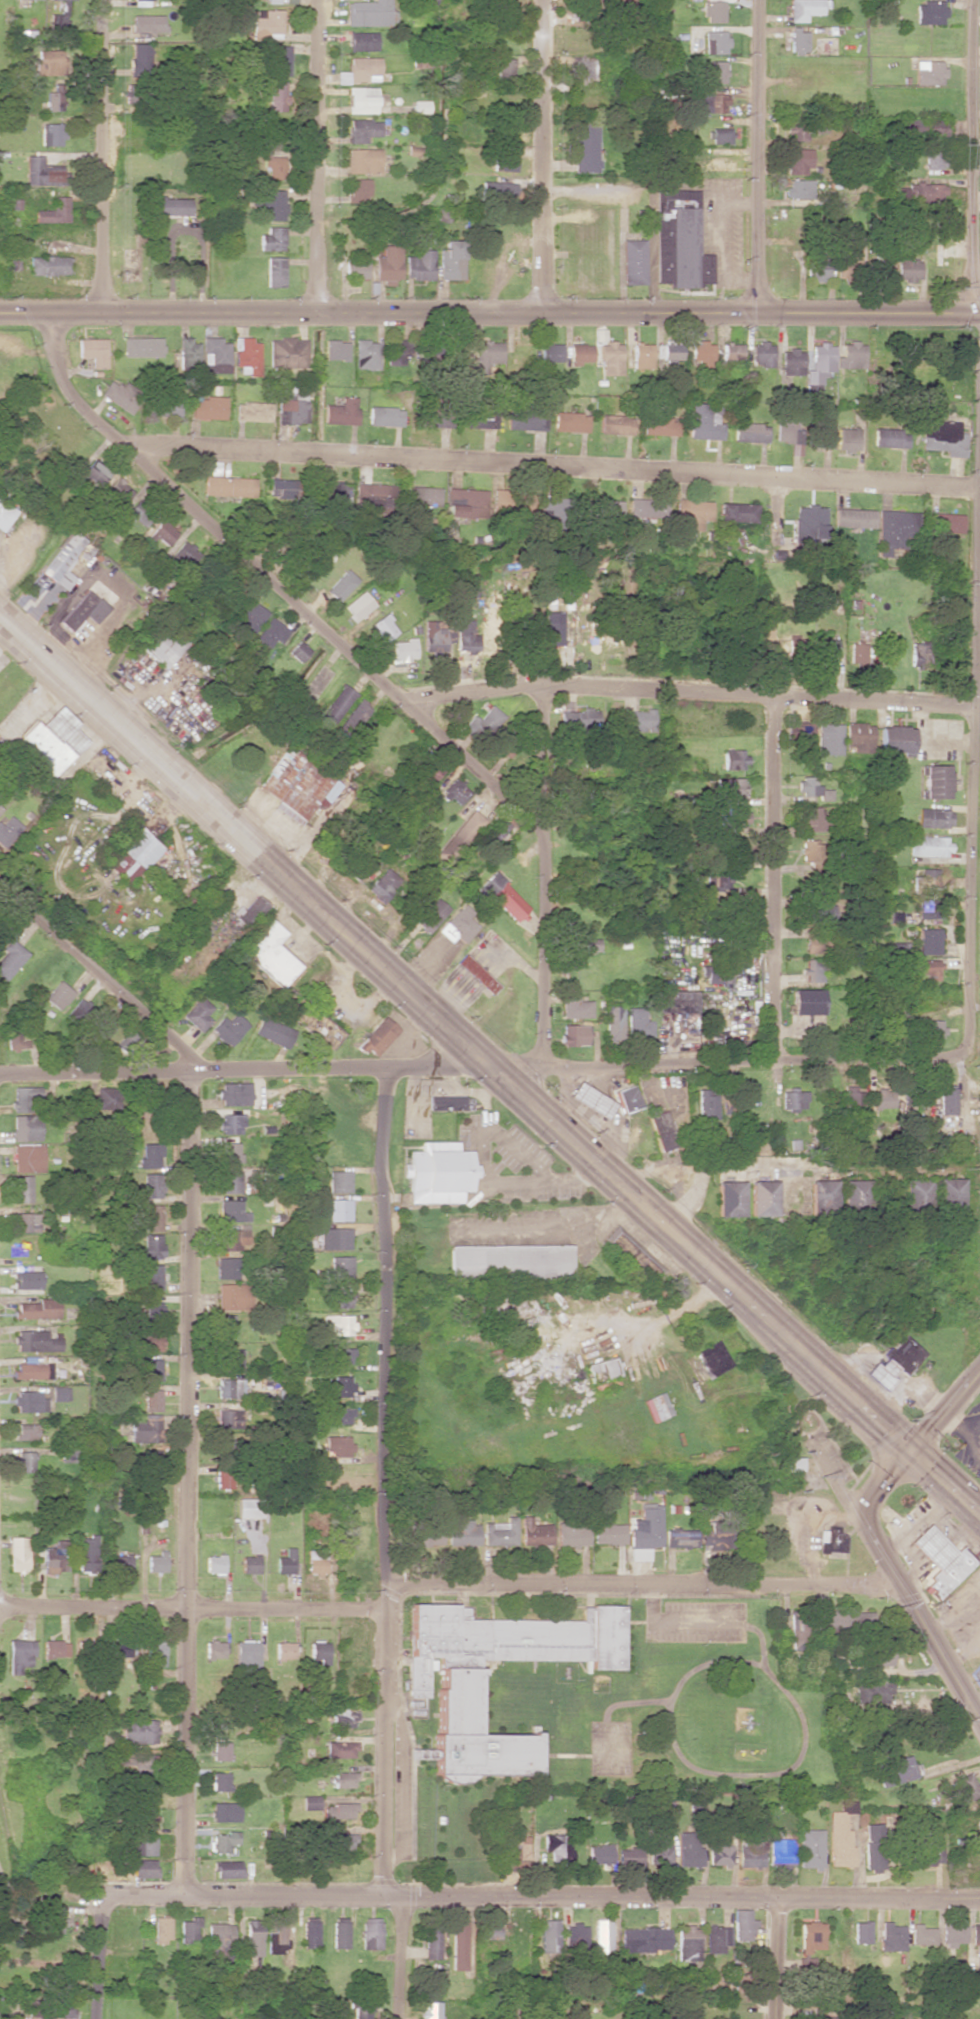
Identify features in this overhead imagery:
building: (803, 9)
building: (713, 11)
building: (929, 12)
building: (370, 13)
building: (57, 21)
building: (266, 22)
building: (147, 23)
building: (797, 39)
building: (363, 40)
building: (715, 41)
building: (139, 55)
building: (281, 58)
building: (49, 62)
building: (505, 66)
building: (361, 70)
building: (715, 71)
building: (585, 72)
building: (928, 72)
building: (277, 96)
building: (362, 99)
building: (55, 101)
building: (421, 106)
building: (911, 126)
building: (798, 128)
building: (363, 129)
building: (935, 129)
building: (52, 133)
building: (720, 135)
road: (974, 137)
building: (586, 147)
road: (319, 154)
road: (102, 155)
road: (540, 156)
road: (761, 157)
building: (934, 159)
building: (364, 160)
building: (798, 161)
building: (717, 162)
building: (276, 166)
building: (43, 172)
building: (799, 188)
building: (361, 189)
building: (496, 190)
building: (925, 192)
building: (269, 203)
building: (169, 206)
building: (54, 211)
building: (273, 239)
building: (679, 240)
building: (452, 259)
building: (634, 261)
building: (389, 263)
building: (48, 265)
building: (420, 265)
building: (907, 269)
building: (819, 270)
building: (276, 271)
building: (356, 271)
road: (432, 310)
road: (51, 312)
road: (870, 316)
building: (142, 347)
building: (337, 350)
building: (93, 351)
building: (669, 351)
building: (189, 352)
building: (288, 352)
building: (397, 352)
building: (551, 353)
building: (581, 353)
building: (702, 353)
building: (367, 354)
building: (733, 354)
building: (762, 354)
building: (216, 355)
building: (486, 355)
building: (852, 355)
building: (247, 356)
building: (642, 356)
building: (611, 358)
building: (792, 362)
building: (819, 365)
building: (120, 395)
building: (208, 407)
building: (293, 408)
park: (252, 409)
building: (343, 411)
building: (255, 412)
building: (386, 416)
building: (703, 420)
building: (570, 422)
building: (615, 424)
building: (660, 425)
park: (43, 430)
building: (787, 431)
building: (750, 432)
building: (823, 435)
building: (889, 437)
building: (943, 437)
building: (847, 439)
road: (548, 466)
building: (96, 472)
building: (230, 486)
building: (287, 488)
building: (118, 491)
building: (331, 492)
building: (378, 495)
building: (423, 495)
building: (466, 502)
building: (608, 508)
building: (647, 508)
building: (5, 514)
building: (692, 514)
building: (734, 516)
building: (854, 517)
building: (137, 518)
road: (207, 522)
building: (810, 524)
building: (893, 529)
building: (186, 553)
building: (67, 559)
building: (342, 585)
building: (359, 606)
building: (84, 610)
building: (252, 615)
building: (385, 627)
building: (272, 632)
building: (554, 632)
building: (436, 636)
building: (464, 639)
building: (779, 640)
building: (164, 644)
building: (827, 647)
building: (405, 649)
building: (299, 651)
building: (858, 652)
building: (920, 654)
road: (692, 691)
building: (339, 703)
building: (357, 715)
building: (641, 719)
building: (486, 720)
building: (581, 721)
building: (800, 734)
building: (858, 736)
building: (829, 738)
building: (895, 738)
building: (54, 739)
building: (734, 758)
road: (472, 766)
building: (431, 769)
building: (935, 781)
building: (298, 785)
building: (732, 786)
road: (974, 787)
building: (812, 788)
building: (456, 791)
building: (0, 808)
building: (811, 815)
building: (736, 817)
building: (934, 817)
building: (8, 830)
building: (461, 836)
building: (736, 843)
building: (929, 845)
building: (132, 854)
building: (809, 855)
road: (771, 875)
road: (540, 877)
building: (719, 881)
building: (921, 883)
building: (383, 884)
building: (503, 896)
building: (930, 909)
building: (821, 912)
building: (431, 915)
building: (458, 924)
building: (820, 941)
building: (929, 941)
building: (589, 945)
building: (271, 954)
building: (11, 958)
building: (927, 968)
building: (814, 970)
building: (477, 973)
road: (100, 974)
building: (718, 974)
building: (58, 995)
building: (677, 1001)
building: (808, 1001)
building: (575, 1007)
building: (199, 1014)
building: (613, 1022)
building: (638, 1022)
road: (445, 1023)
building: (229, 1028)
building: (934, 1028)
building: (325, 1031)
building: (275, 1032)
building: (573, 1034)
building: (377, 1036)
building: (15, 1040)
building: (128, 1042)
road: (732, 1059)
road: (332, 1068)
road: (96, 1072)
building: (235, 1093)
building: (883, 1097)
building: (27, 1098)
building: (107, 1098)
building: (627, 1098)
building: (795, 1098)
building: (590, 1099)
building: (947, 1099)
building: (854, 1100)
building: (451, 1103)
building: (706, 1104)
building: (231, 1123)
building: (26, 1127)
building: (662, 1131)
building: (230, 1152)
building: (150, 1155)
building: (28, 1157)
road: (738, 1164)
building: (439, 1172)
building: (339, 1181)
building: (230, 1182)
building: (151, 1185)
building: (23, 1188)
building: (856, 1194)
building: (950, 1195)
building: (824, 1196)
building: (917, 1196)
building: (730, 1198)
building: (764, 1198)
building: (340, 1209)
building: (232, 1211)
building: (152, 1217)
building: (26, 1222)
building: (232, 1238)
building: (334, 1238)
building: (151, 1246)
building: (509, 1260)
building: (340, 1267)
building: (227, 1268)
building: (151, 1276)
building: (27, 1279)
building: (230, 1296)
building: (341, 1298)
building: (38, 1309)
building: (151, 1309)
building: (224, 1323)
building: (338, 1324)
building: (149, 1340)
building: (36, 1341)
building: (341, 1355)
building: (229, 1358)
building: (712, 1358)
building: (895, 1361)
building: (603, 1367)
building: (152, 1369)
building: (33, 1370)
building: (596, 1377)
building: (343, 1385)
building: (229, 1388)
building: (60, 1393)
road: (946, 1399)
building: (151, 1400)
building: (31, 1402)
building: (227, 1415)
building: (340, 1415)
traffic signals: (926, 1425)
traffic signals: (887, 1429)
building: (145, 1430)
building: (26, 1431)
road: (902, 1436)
road: (896, 1443)
building: (338, 1445)
road: (908, 1447)
building: (224, 1451)
building: (68, 1455)
traffic signals: (931, 1455)
building: (151, 1457)
building: (25, 1461)
building: (792, 1463)
road: (947, 1469)
traffic signals: (885, 1476)
building: (224, 1479)
road: (383, 1481)
road: (187, 1482)
road: (941, 1490)
building: (250, 1508)
building: (644, 1531)
building: (501, 1532)
building: (534, 1532)
building: (465, 1533)
building: (608, 1533)
building: (572, 1534)
building: (427, 1537)
building: (680, 1537)
building: (715, 1537)
building: (831, 1540)
building: (18, 1553)
building: (87, 1553)
building: (56, 1557)
building: (941, 1560)
building: (122, 1561)
building: (286, 1561)
building: (316, 1561)
building: (157, 1562)
building: (215, 1563)
building: (250, 1564)
road: (642, 1582)
road: (901, 1591)
road: (194, 1608)
building: (846, 1621)
building: (797, 1632)
building: (56, 1648)
building: (214, 1649)
building: (284, 1650)
building: (154, 1651)
building: (247, 1652)
building: (319, 1652)
building: (19, 1654)
building: (882, 1654)
building: (977, 1675)
building: (458, 1685)
building: (872, 1691)
building: (342, 1717)
building: (139, 1731)
building: (340, 1749)
building: (221, 1751)
building: (140, 1762)
building: (896, 1770)
building: (343, 1779)
building: (220, 1781)
building: (963, 1790)
building: (145, 1793)
building: (311, 1802)
building: (339, 1810)
building: (225, 1812)
building: (146, 1820)
building: (978, 1829)
building: (840, 1835)
building: (223, 1841)
building: (346, 1841)
building: (143, 1845)
building: (873, 1846)
building: (558, 1847)
building: (810, 1848)
building: (520, 1849)
building: (688, 1850)
building: (750, 1852)
building: (779, 1852)
building: (931, 1853)
building: (599, 1854)
building: (720, 1855)
building: (629, 1856)
building: (662, 1856)
building: (144, 1868)
building: (228, 1868)
road: (145, 1895)
road: (583, 1895)
building: (54, 1921)
building: (742, 1925)
building: (163, 1928)
building: (491, 1929)
building: (189, 1931)
building: (311, 1932)
building: (341, 1932)
building: (862, 1932)
building: (371, 1933)
building: (921, 1934)
building: (575, 1935)
building: (277, 1936)
building: (549, 1936)
building: (603, 1936)
building: (891, 1936)
building: (254, 1937)
building: (220, 1938)
building: (716, 1938)
building: (644, 1939)
building: (432, 1942)
building: (688, 1943)
building: (459, 1945)
building: (812, 1946)
road: (99, 1957)
road: (398, 1957)
road: (775, 1957)
building: (50, 2006)
building: (430, 2010)
building: (361, 2011)
building: (826, 2017)

